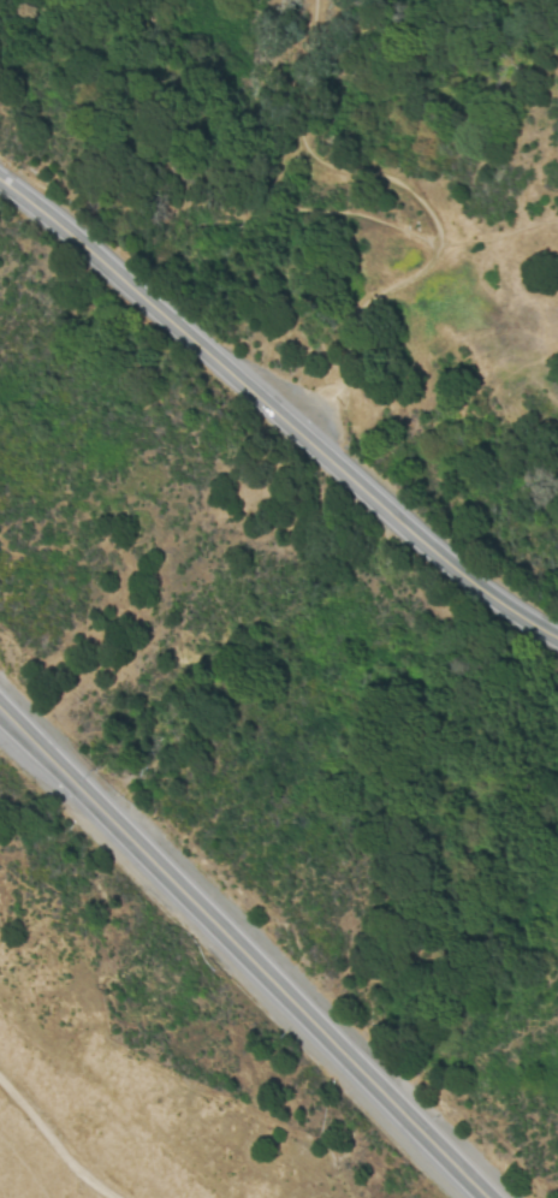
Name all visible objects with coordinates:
road: (55, 7)
park: (319, 8)
road: (251, 170)
road: (432, 206)
road: (503, 242)
park: (486, 275)
road: (274, 413)
parking lot: (310, 415)
road: (243, 953)
road: (54, 1138)

